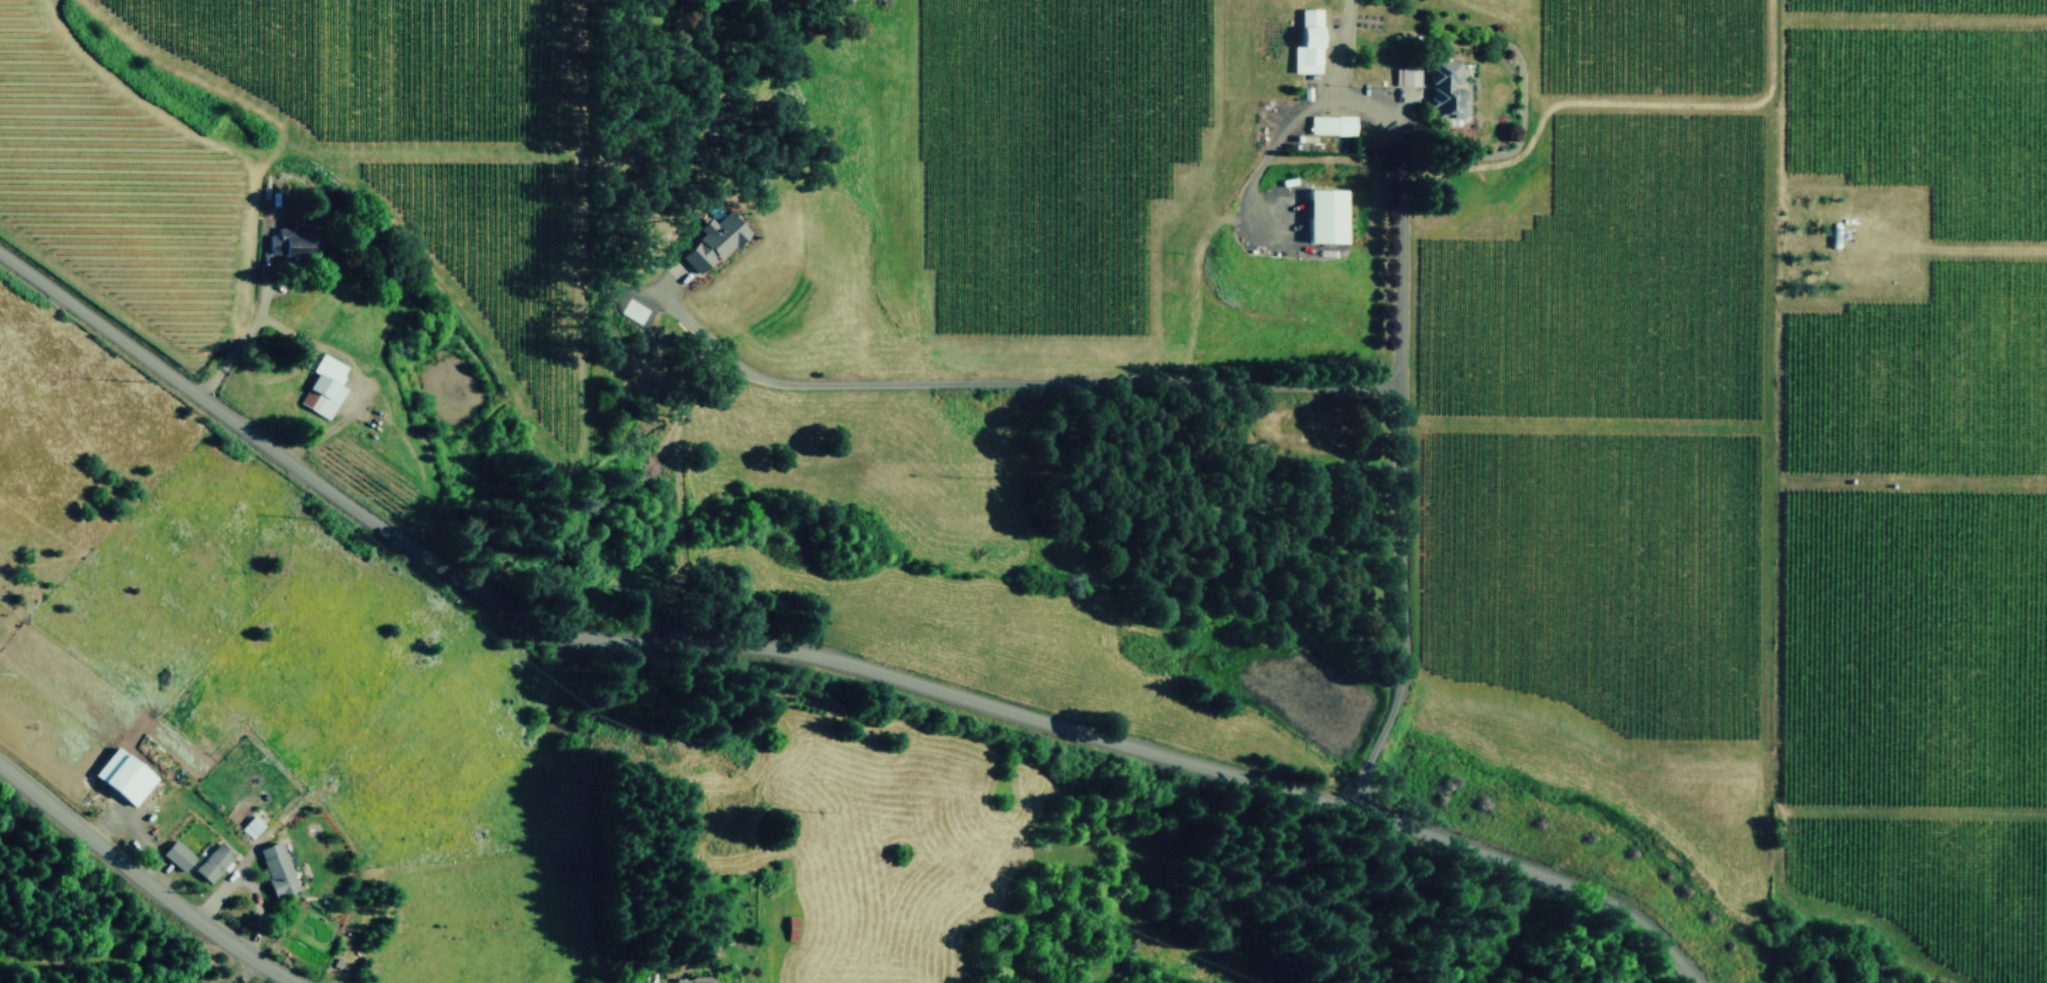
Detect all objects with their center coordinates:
building: (1310, 41)
building: (1408, 75)
building: (1446, 88)
building: (1334, 123)
road: (1263, 151)
road: (1399, 179)
building: (1328, 214)
building: (715, 239)
building: (297, 240)
road: (240, 335)
road: (1214, 381)
building: (326, 385)
road: (824, 658)
building: (124, 774)
building: (253, 825)
building: (179, 853)
building: (215, 860)
building: (278, 868)
road: (143, 881)
road: (245, 971)
building: (687, 980)

